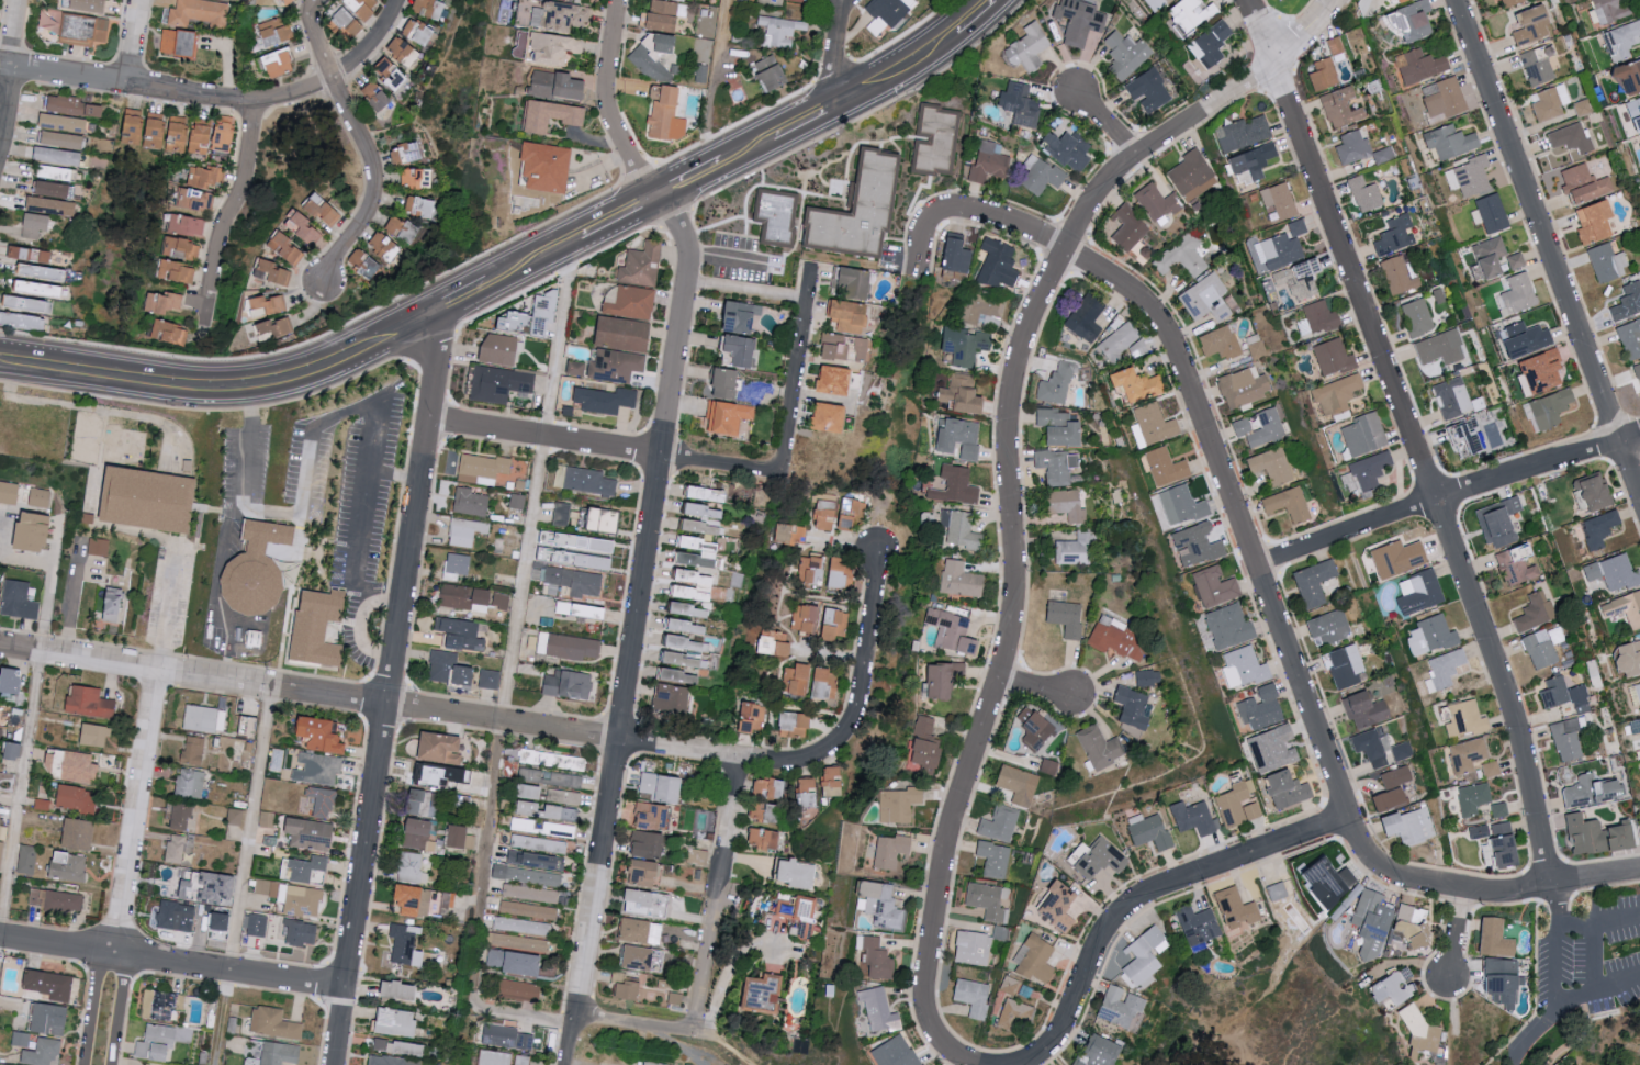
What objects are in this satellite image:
building: (798, 0)
building: (1393, 0)
building: (284, 2)
building: (1506, 2)
building: (1158, 3)
building: (87, 4)
building: (363, 9)
building: (429, 9)
building: (1610, 9)
building: (200, 13)
building: (889, 13)
building: (1194, 13)
building: (565, 15)
building: (665, 15)
road: (975, 16)
building: (350, 20)
building: (1407, 20)
building: (1080, 21)
building: (1528, 23)
building: (75, 27)
building: (780, 30)
building: (277, 32)
building: (417, 32)
road: (1302, 32)
road: (613, 40)
building: (1620, 40)
road: (132, 41)
building: (1215, 42)
building: (180, 43)
building: (669, 43)
building: (1333, 45)
building: (555, 47)
building: (1030, 47)
road: (835, 51)
building: (403, 52)
building: (1127, 54)
building: (278, 61)
road: (8, 64)
building: (1536, 65)
building: (652, 66)
building: (1418, 66)
road: (899, 69)
road: (63, 71)
building: (773, 72)
building: (1321, 74)
building: (390, 75)
building: (1626, 76)
building: (559, 85)
road: (711, 86)
building: (1149, 90)
building: (378, 96)
building: (1440, 97)
road: (283, 98)
building: (1547, 102)
building: (1022, 103)
building: (75, 105)
building: (1338, 107)
building: (551, 114)
building: (1632, 115)
building: (667, 116)
road: (806, 120)
road: (1108, 123)
building: (157, 130)
building: (64, 131)
building: (1239, 133)
building: (179, 134)
building: (214, 136)
building: (1639, 136)
building: (936, 137)
building: (1569, 137)
road: (1155, 139)
building: (1446, 141)
road: (359, 142)
road: (622, 144)
building: (1070, 148)
building: (1357, 148)
road: (748, 152)
building: (407, 153)
building: (59, 156)
building: (1247, 160)
building: (989, 161)
building: (549, 166)
building: (1043, 175)
building: (1189, 175)
building: (205, 176)
building: (1465, 176)
building: (416, 177)
road: (689, 182)
building: (1581, 183)
building: (54, 189)
building: (1362, 193)
building: (195, 199)
building: (1277, 200)
building: (1154, 202)
building: (53, 206)
road: (234, 206)
building: (419, 206)
building: (864, 208)
building: (326, 209)
road: (970, 212)
building: (1490, 212)
building: (776, 216)
road: (618, 218)
building: (1588, 221)
building: (37, 224)
building: (188, 224)
building: (306, 226)
building: (1125, 227)
building: (1294, 227)
building: (403, 231)
building: (1393, 235)
building: (288, 246)
building: (383, 246)
road: (1548, 247)
building: (183, 248)
building: (1278, 249)
building: (31, 254)
building: (959, 255)
building: (1485, 255)
building: (1183, 256)
road: (533, 260)
building: (1000, 260)
building: (1513, 260)
building: (1604, 260)
road: (726, 261)
building: (366, 264)
building: (642, 265)
building: (46, 271)
building: (178, 271)
building: (272, 271)
building: (1396, 274)
building: (1295, 278)
building: (855, 281)
building: (42, 288)
building: (1516, 293)
road: (745, 294)
road: (465, 295)
building: (1204, 298)
building: (630, 301)
building: (1626, 301)
building: (162, 302)
building: (270, 303)
building: (30, 304)
building: (985, 306)
building: (548, 314)
building: (851, 315)
building: (1316, 315)
building: (743, 317)
building: (1081, 317)
building: (1414, 317)
building: (23, 321)
building: (519, 322)
building: (170, 332)
building: (626, 334)
building: (1629, 338)
building: (1521, 339)
building: (1215, 341)
building: (1119, 344)
building: (965, 345)
building: (847, 347)
building: (1437, 348)
building: (501, 349)
building: (745, 350)
building: (1329, 357)
building: (617, 366)
building: (575, 368)
road: (798, 368)
building: (1537, 371)
building: (1637, 373)
building: (838, 380)
road: (228, 382)
building: (726, 382)
building: (501, 384)
building: (1054, 384)
building: (1130, 384)
building: (1239, 386)
building: (964, 394)
building: (1334, 394)
building: (1449, 397)
building: (605, 400)
building: (1547, 408)
building: (729, 416)
building: (833, 417)
building: (1149, 425)
building: (1238, 426)
building: (1055, 427)
building: (1265, 428)
road: (312, 433)
building: (1360, 434)
building: (1463, 437)
building: (961, 438)
road: (605, 445)
road: (1418, 455)
building: (1054, 466)
building: (1162, 466)
building: (1269, 466)
parking lot: (247, 469)
building: (483, 469)
parking lot: (311, 472)
road: (394, 477)
building: (589, 481)
building: (957, 485)
building: (10, 492)
building: (1588, 492)
parking lot: (366, 494)
building: (707, 494)
road: (1447, 494)
building: (40, 497)
building: (150, 500)
building: (518, 501)
building: (471, 502)
building: (1285, 504)
building: (1064, 505)
building: (1175, 505)
road: (1237, 511)
building: (561, 514)
building: (852, 514)
building: (825, 515)
building: (605, 519)
building: (705, 519)
building: (1495, 520)
building: (1596, 528)
building: (961, 529)
building: (35, 531)
building: (465, 531)
building: (791, 534)
building: (698, 543)
building: (1191, 545)
building: (99, 547)
building: (1074, 549)
building: (577, 550)
building: (1393, 558)
building: (696, 560)
building: (1514, 563)
building: (828, 571)
building: (259, 572)
building: (1610, 572)
road: (521, 580)
building: (574, 580)
building: (961, 580)
road: (215, 581)
building: (1311, 582)
building: (0, 584)
building: (1212, 586)
building: (1416, 592)
road: (69, 598)
parking lot: (169, 598)
building: (473, 598)
building: (19, 601)
building: (113, 604)
building: (1622, 608)
building: (592, 610)
building: (1532, 612)
road: (169, 614)
building: (799, 616)
building: (1063, 617)
building: (812, 618)
building: (836, 624)
building: (687, 626)
building: (1224, 626)
road: (358, 627)
building: (1325, 627)
road: (641, 629)
building: (321, 630)
building: (953, 631)
building: (461, 634)
building: (1427, 636)
building: (1114, 639)
building: (570, 646)
building: (775, 647)
road: (1009, 649)
building: (1538, 649)
building: (686, 651)
road: (829, 657)
road: (864, 658)
building: (1626, 659)
building: (442, 665)
building: (1343, 665)
building: (1239, 666)
building: (1441, 670)
road: (192, 674)
building: (467, 675)
building: (681, 676)
building: (1145, 677)
building: (490, 679)
building: (798, 679)
building: (946, 680)
building: (14, 681)
building: (569, 684)
building: (827, 684)
road: (390, 686)
road: (1036, 687)
building: (1560, 693)
building: (1633, 694)
building: (673, 698)
building: (91, 703)
building: (1128, 707)
building: (1258, 708)
building: (1362, 709)
building: (753, 718)
building: (205, 719)
building: (1463, 719)
building: (797, 725)
building: (1030, 728)
road: (563, 729)
building: (96, 735)
building: (325, 736)
building: (1565, 739)
building: (926, 743)
building: (1097, 747)
building: (1367, 747)
building: (442, 748)
building: (1269, 748)
building: (193, 750)
building: (1400, 750)
building: (1464, 755)
building: (552, 759)
road: (782, 765)
building: (77, 766)
building: (319, 767)
building: (1489, 769)
building: (427, 776)
building: (831, 781)
building: (544, 782)
building: (190, 783)
building: (1012, 784)
building: (664, 787)
building: (768, 787)
building: (1281, 788)
building: (1389, 789)
road: (18, 792)
building: (1591, 792)
building: (806, 793)
building: (563, 796)
building: (76, 798)
building: (1470, 798)
building: (322, 801)
building: (424, 803)
building: (1236, 804)
building: (900, 805)
building: (1496, 809)
road: (136, 810)
building: (549, 810)
building: (766, 811)
building: (181, 816)
building: (653, 817)
building: (1189, 817)
building: (997, 823)
building: (1406, 826)
building: (542, 827)
building: (3, 830)
building: (1145, 830)
building: (1475, 831)
building: (78, 833)
building: (311, 834)
building: (420, 834)
building: (458, 836)
building: (1592, 836)
building: (765, 838)
building: (538, 843)
building: (650, 844)
building: (1497, 845)
building: (179, 850)
building: (888, 851)
building: (1, 853)
building: (991, 859)
building: (1093, 859)
building: (26, 860)
building: (535, 860)
building: (68, 866)
building: (306, 867)
building: (412, 867)
building: (648, 873)
building: (798, 874)
road: (245, 875)
building: (533, 876)
building: (1321, 882)
building: (210, 887)
building: (1273, 890)
building: (529, 893)
road: (1148, 894)
road: (717, 895)
road: (1478, 895)
building: (293, 897)
building: (56, 900)
building: (422, 901)
building: (647, 903)
building: (881, 905)
building: (1051, 906)
building: (1233, 908)
building: (528, 910)
building: (794, 913)
building: (177, 917)
building: (220, 921)
road: (1598, 922)
building: (1368, 923)
building: (1192, 924)
building: (258, 926)
building: (521, 926)
building: (1407, 926)
building: (642, 931)
building: (301, 933)
road: (1458, 938)
building: (1490, 938)
building: (406, 944)
building: (969, 948)
building: (638, 957)
building: (877, 957)
road: (171, 960)
building: (1031, 960)
building: (516, 963)
road: (87, 973)
road: (1588, 977)
building: (1497, 979)
building: (50, 984)
road: (1614, 985)
building: (403, 988)
building: (1385, 989)
building: (518, 990)
building: (629, 990)
building: (764, 993)
building: (676, 998)
building: (970, 998)
road: (1554, 1000)
building: (161, 1004)
road: (93, 1005)
road: (119, 1007)
building: (1010, 1007)
building: (1114, 1007)
road: (480, 1009)
building: (879, 1009)
park: (831, 1013)
building: (49, 1018)
building: (398, 1021)
building: (274, 1022)
road: (637, 1022)
park: (1276, 1029)
building: (507, 1036)
building: (1417, 1036)
building: (21, 1039)
building: (160, 1041)
road: (726, 1045)
building: (401, 1046)
building: (42, 1052)
building: (897, 1052)
building: (1091, 1052)
building: (280, 1053)
building: (495, 1057)
road: (958, 1057)
road: (632, 1060)
building: (392, 1061)
building: (656, 1063)
road: (577, 1064)

